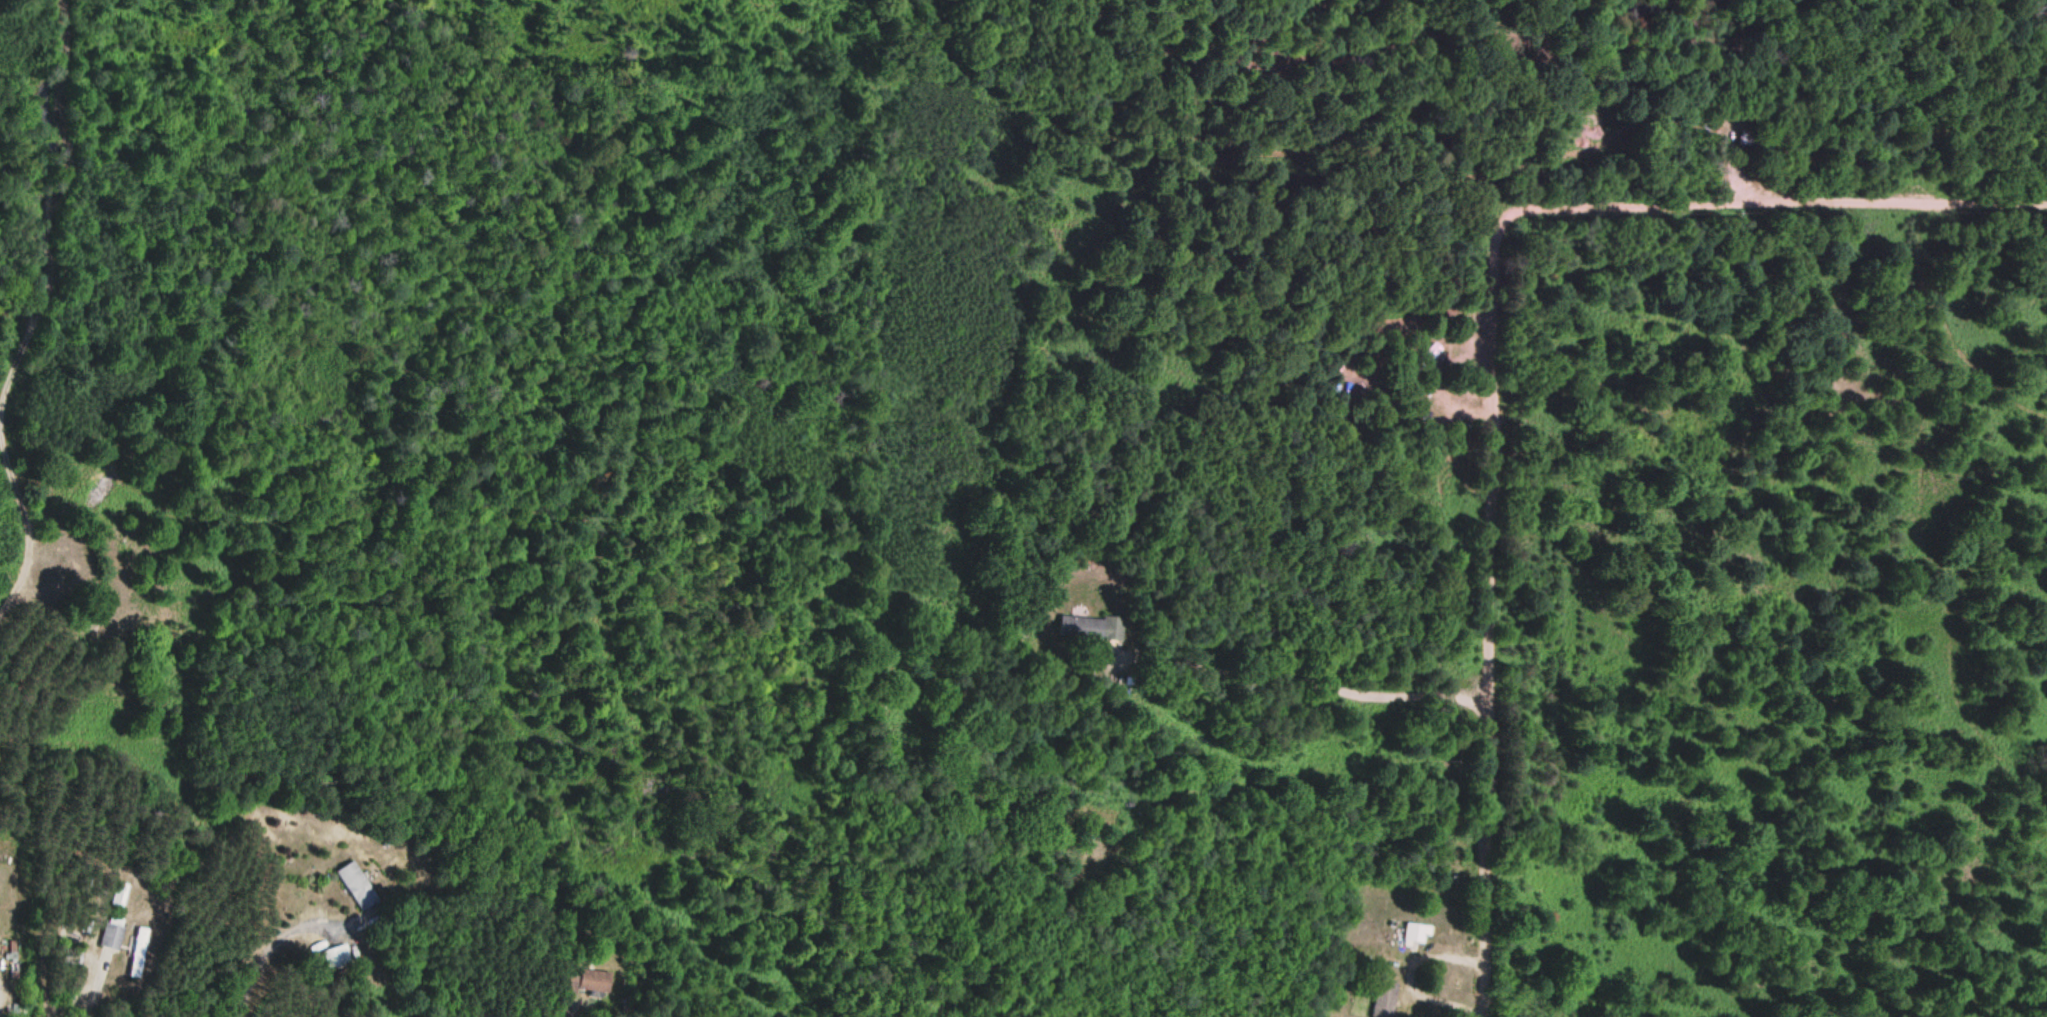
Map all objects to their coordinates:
road: (59, 198)
road: (1769, 206)
road: (20, 538)
road: (1478, 614)
building: (356, 886)
building: (118, 896)
building: (1415, 934)
building: (137, 952)
building: (335, 956)

